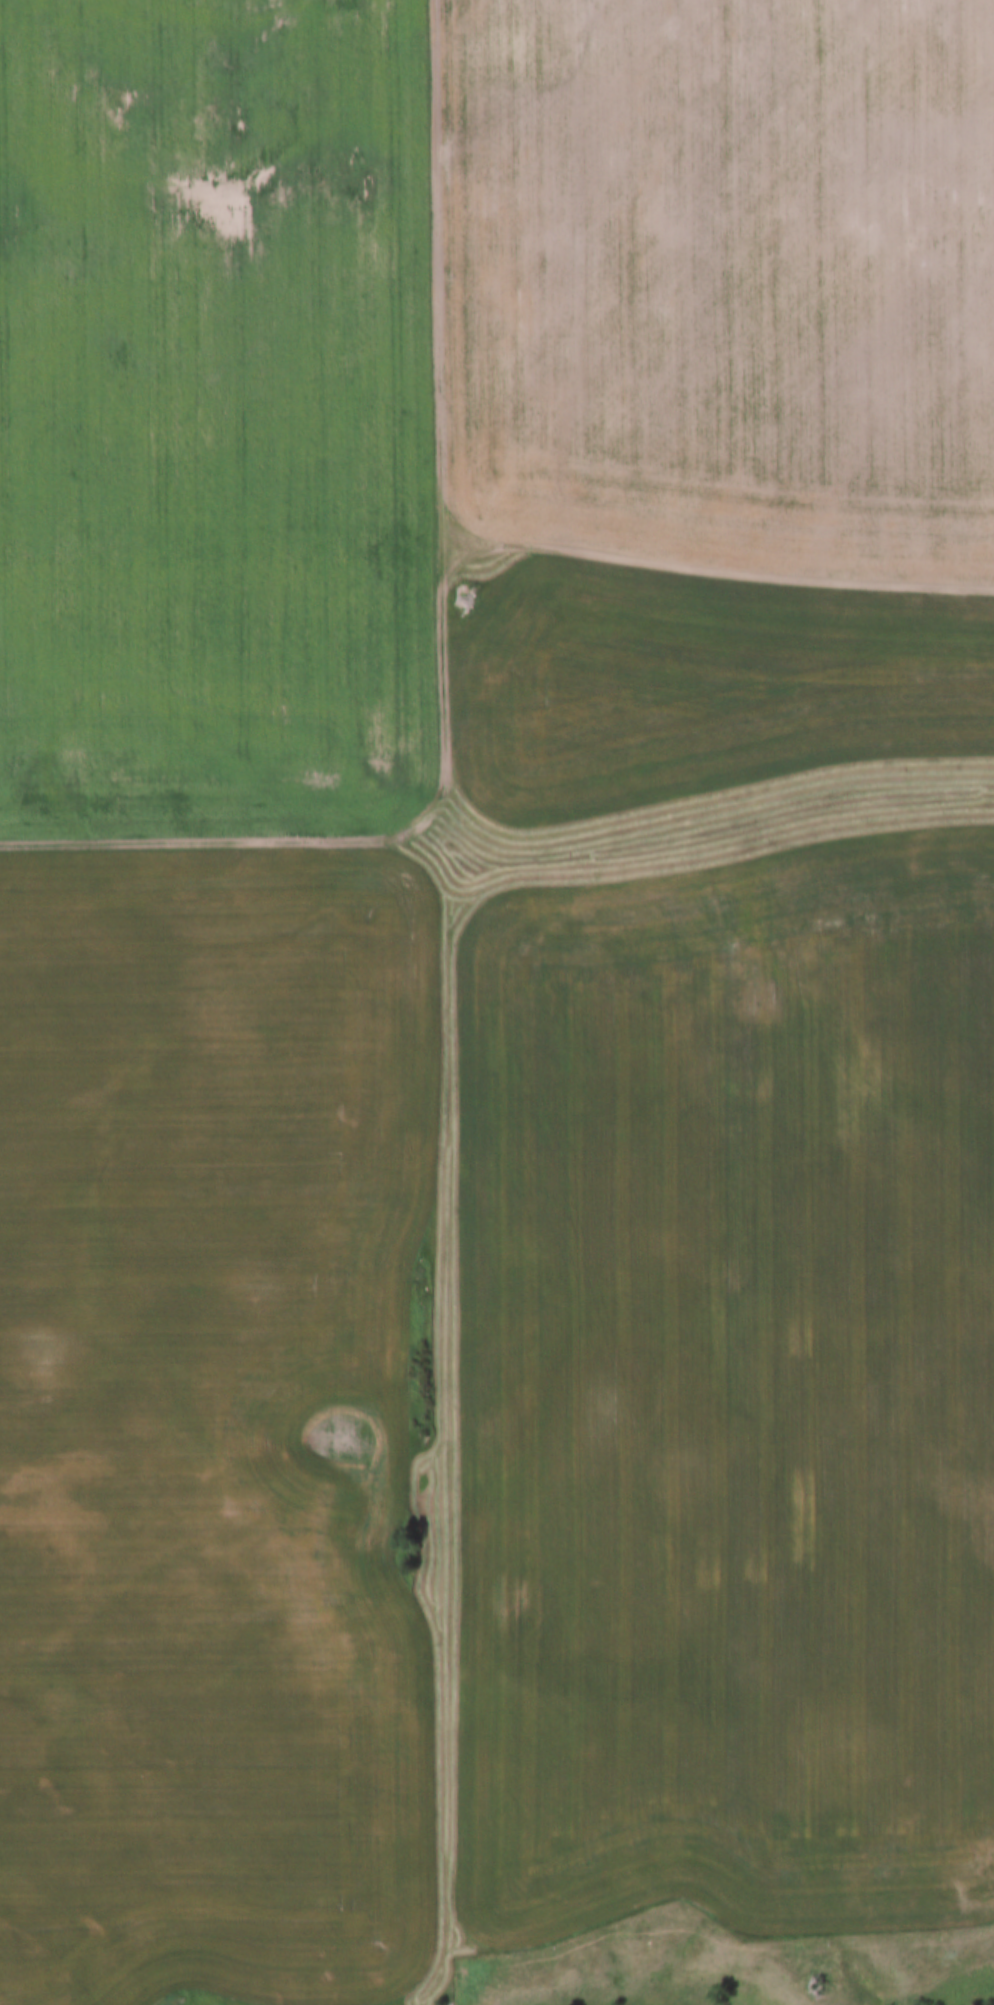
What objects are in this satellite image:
road: (438, 420)
road: (707, 572)
road: (212, 837)

